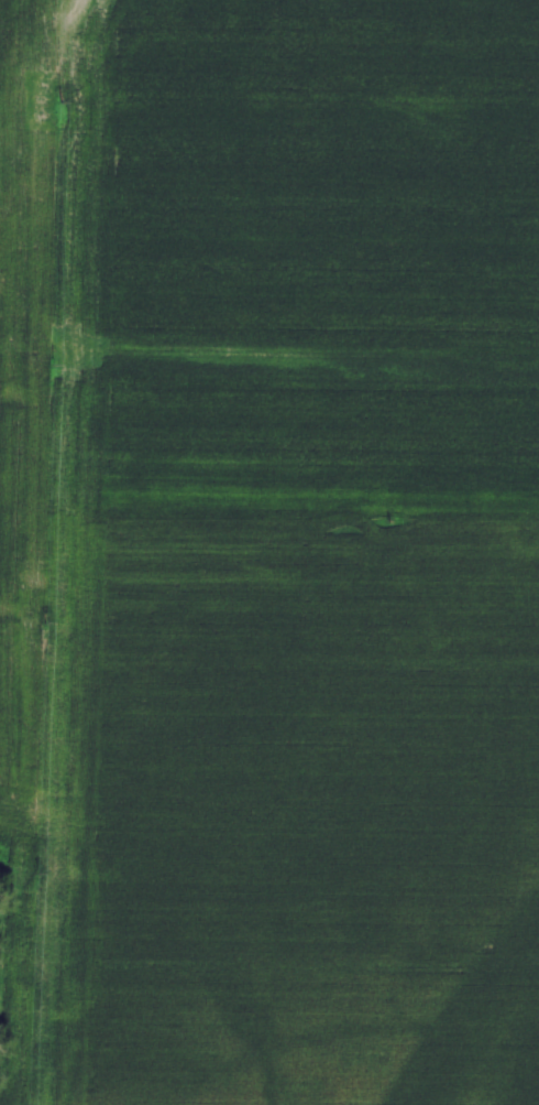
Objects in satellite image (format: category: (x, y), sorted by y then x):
crop: (269, 552)

